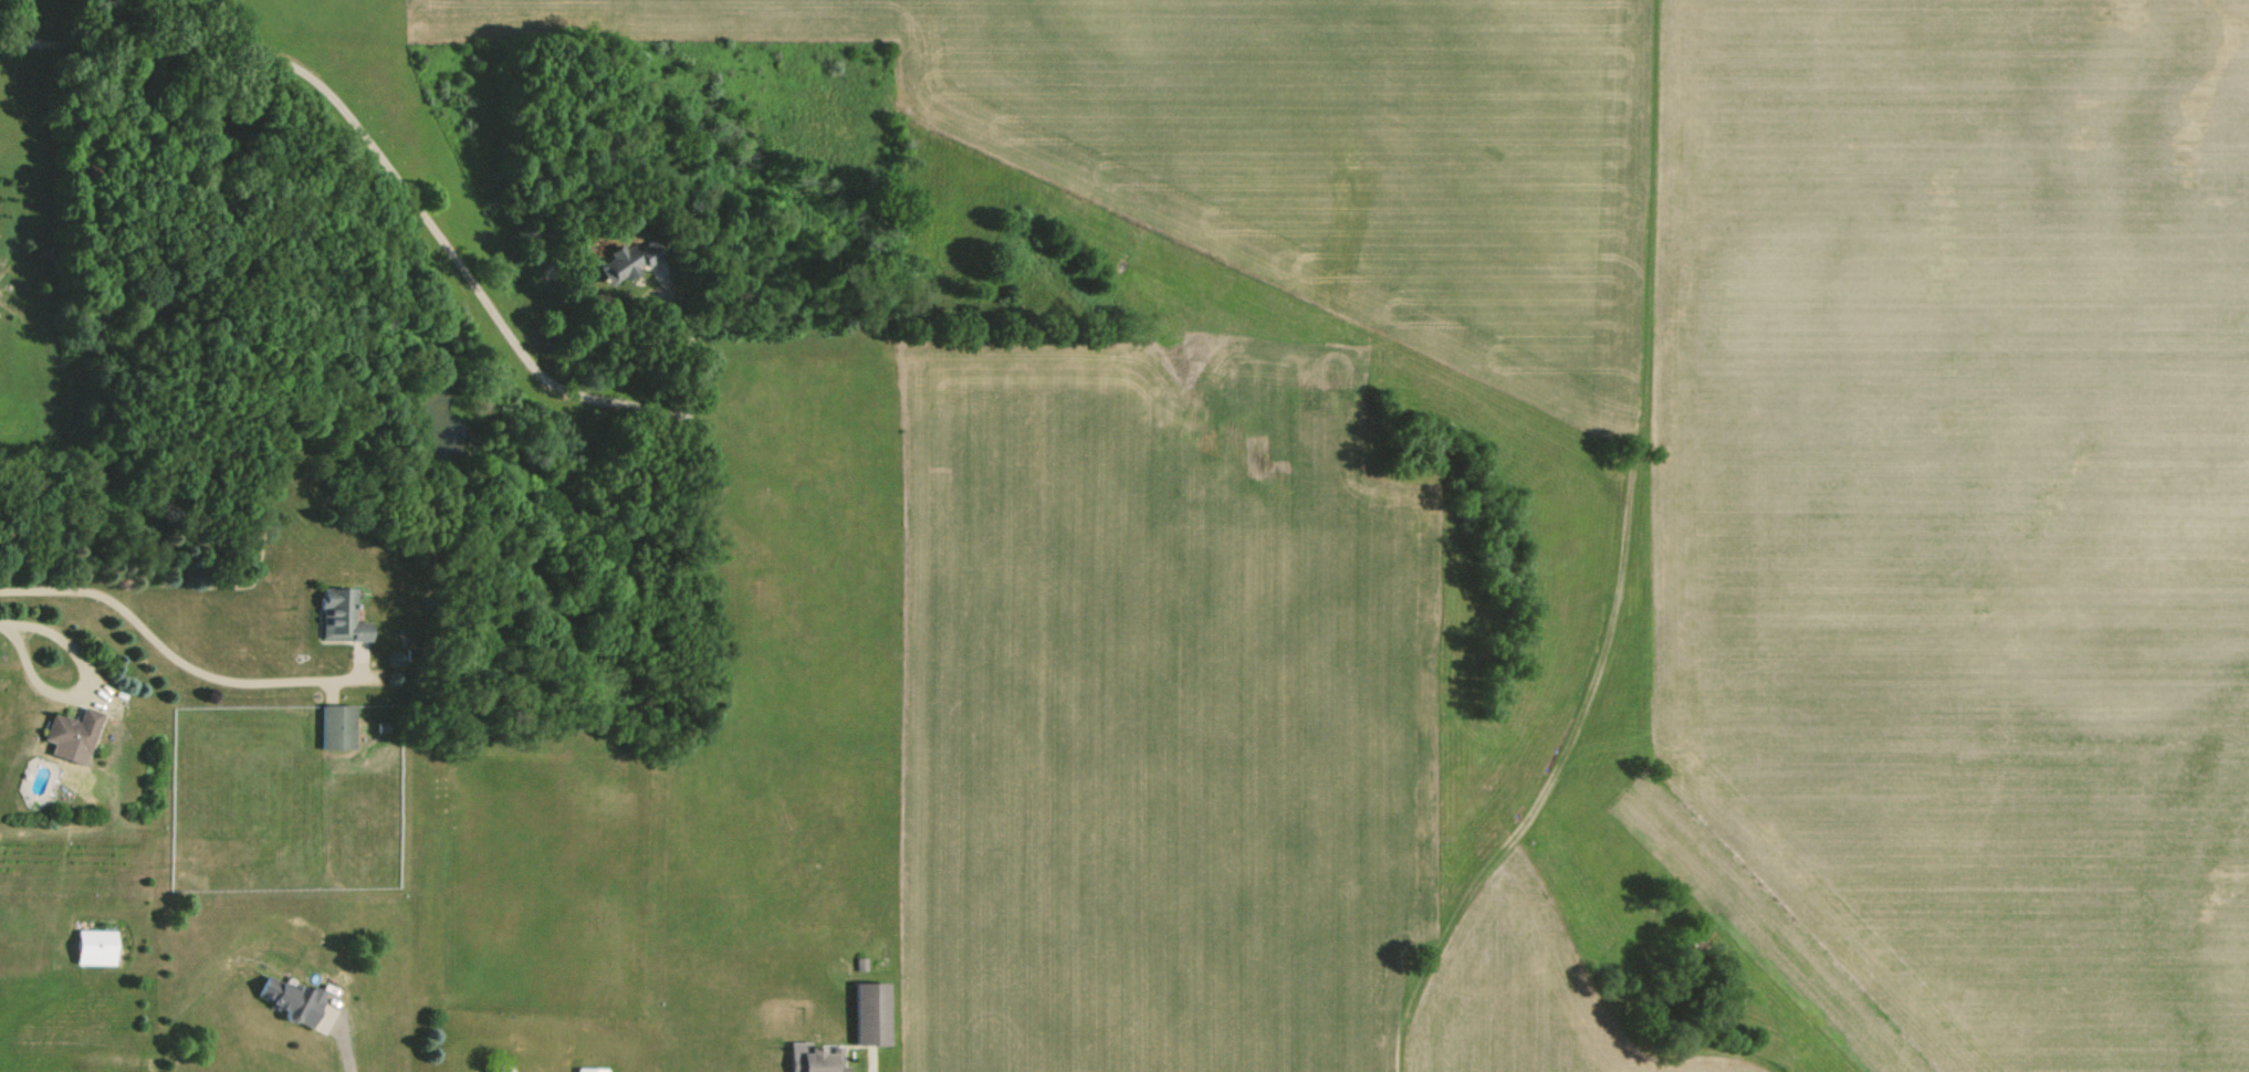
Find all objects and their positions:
road: (406, 201)
building: (600, 262)
building: (334, 616)
road: (7, 621)
road: (170, 654)
road: (80, 690)
building: (334, 727)
building: (66, 735)
building: (95, 947)
building: (291, 1000)
building: (870, 1012)
building: (814, 1059)
road: (349, 1060)
building: (589, 1070)

